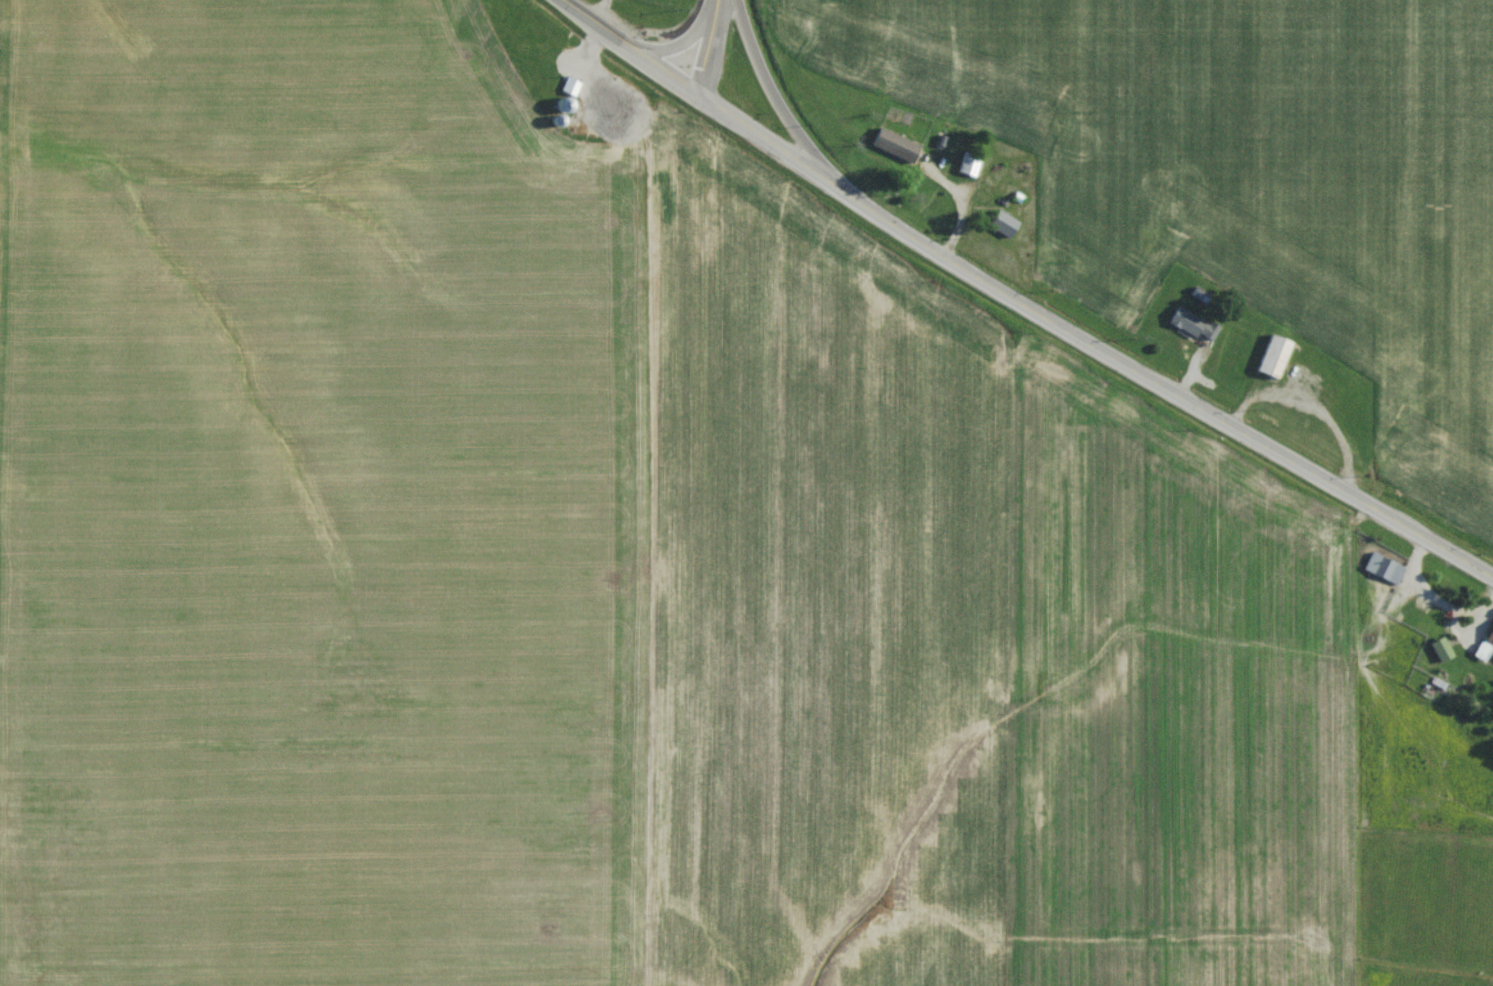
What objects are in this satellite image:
road: (628, 43)
road: (703, 43)
building: (566, 91)
road: (770, 91)
building: (558, 110)
road: (758, 132)
building: (890, 149)
building: (965, 168)
building: (997, 228)
building: (1187, 330)
building: (1268, 361)
road: (1155, 382)
building: (1379, 573)
building: (1484, 645)
building: (1436, 653)

